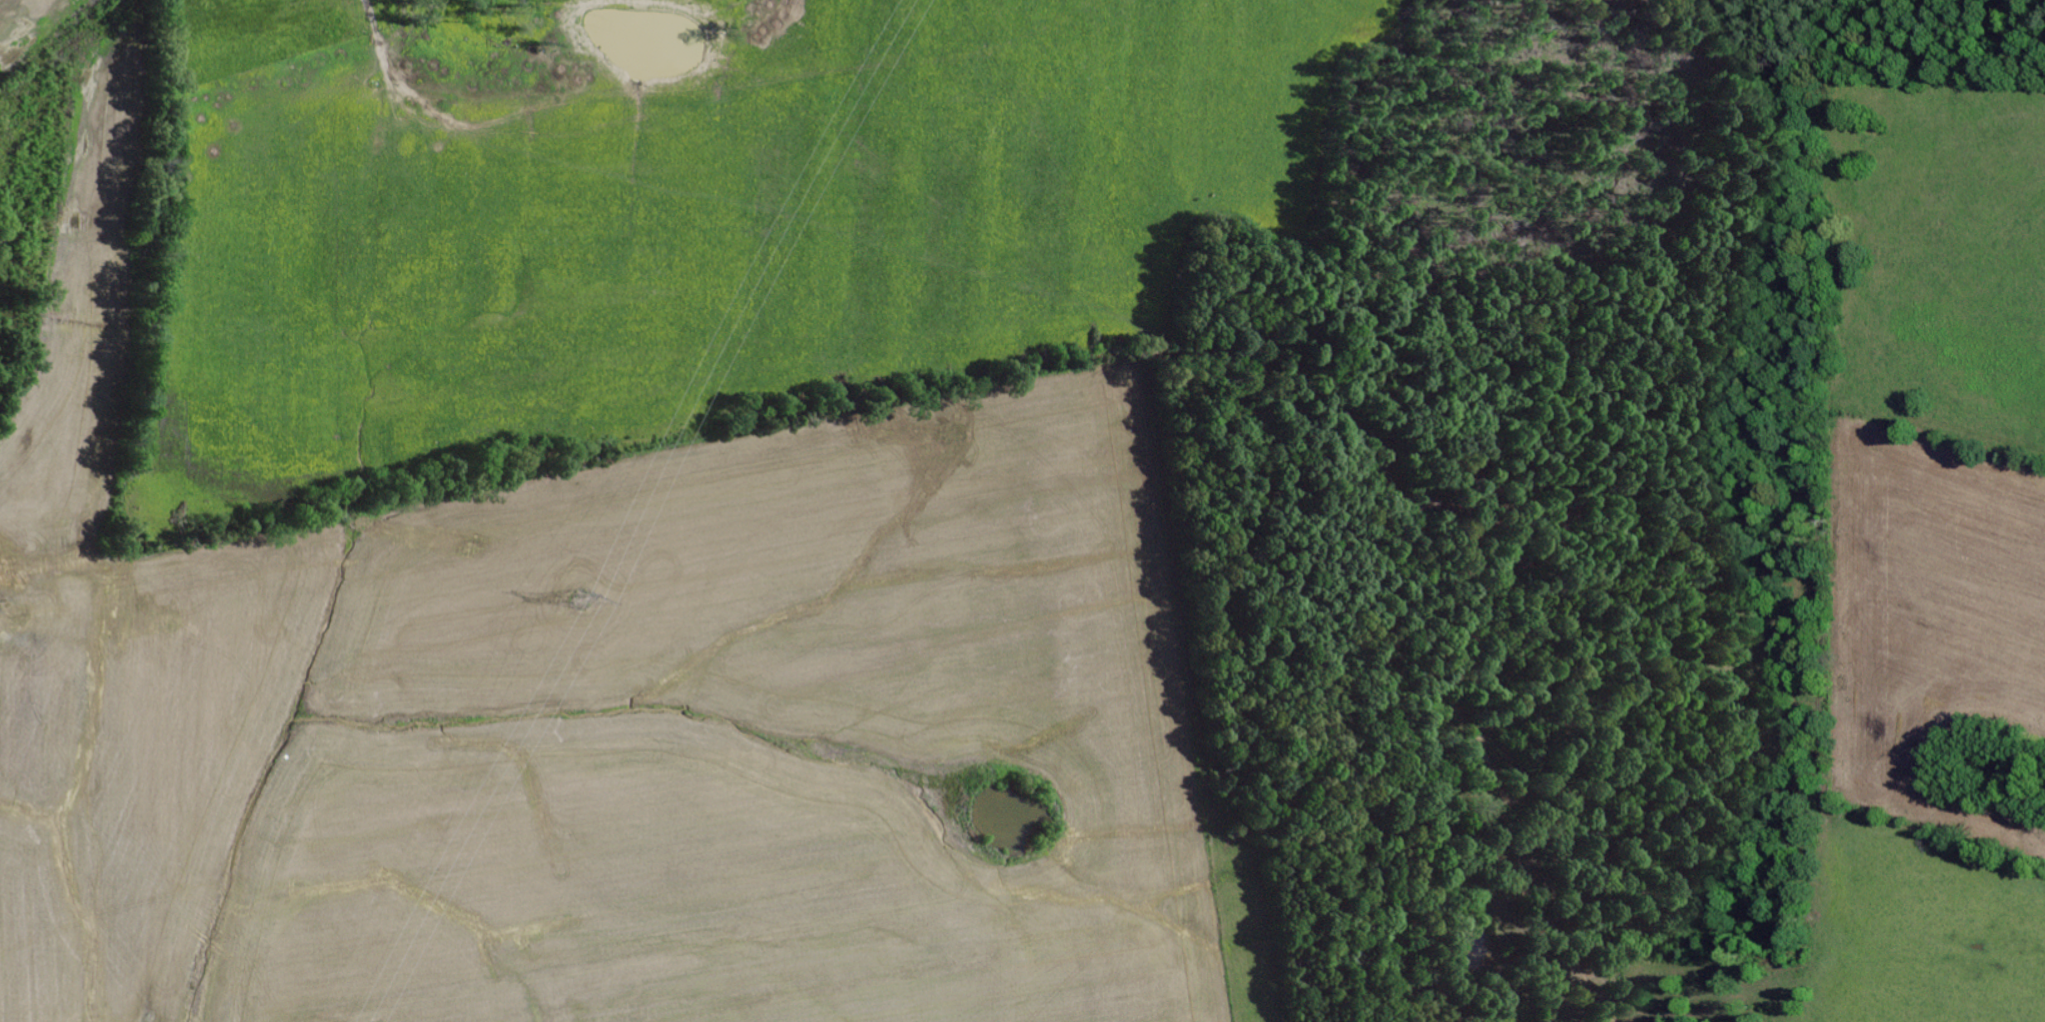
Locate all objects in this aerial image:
power tower: (585, 602)

